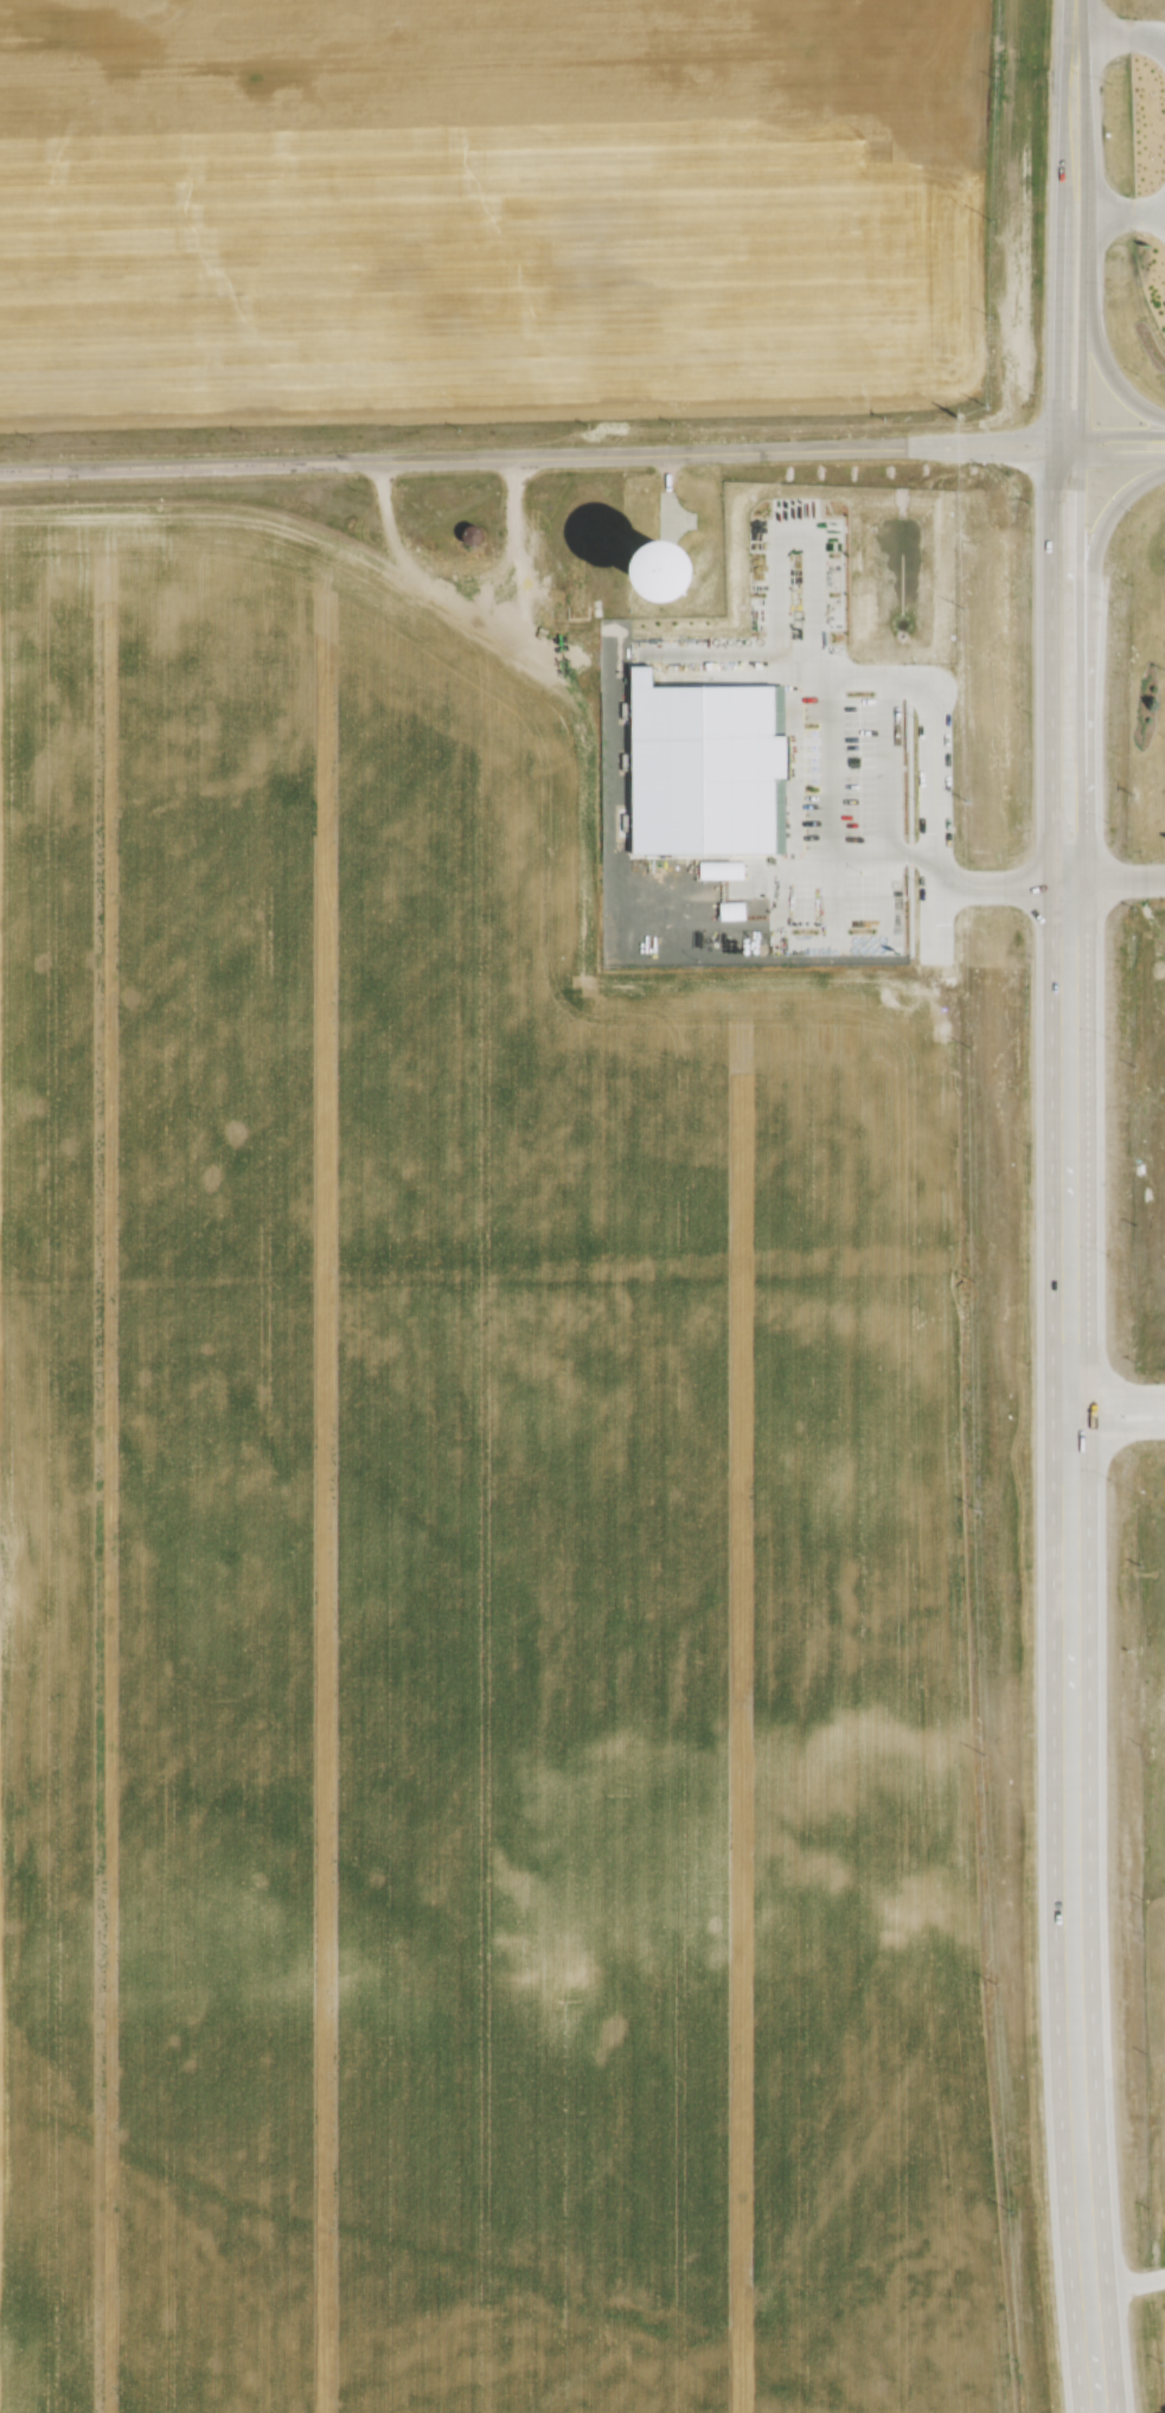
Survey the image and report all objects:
road: (1083, 78)
street lamp: (1108, 82)
road: (1061, 101)
street lamp: (1033, 185)
road: (1086, 217)
street lamp: (1110, 289)
road: (1060, 321)
road: (1083, 347)
road: (1105, 353)
street lamp: (1030, 395)
road: (1112, 417)
road: (981, 422)
road: (1082, 430)
road: (980, 439)
road: (1110, 442)
road: (452, 444)
street lamp: (1028, 498)
street lamp: (1134, 513)
road: (1097, 518)
building: (476, 535)
water tower: (664, 570)
building: (712, 575)
street lamp: (1109, 603)
road: (1052, 663)
road: (1077, 663)
street lamp: (1030, 709)
street lamp: (1105, 812)
road: (1115, 1394)
road: (1116, 1430)
road: (1068, 1649)
road: (1128, 2382)

